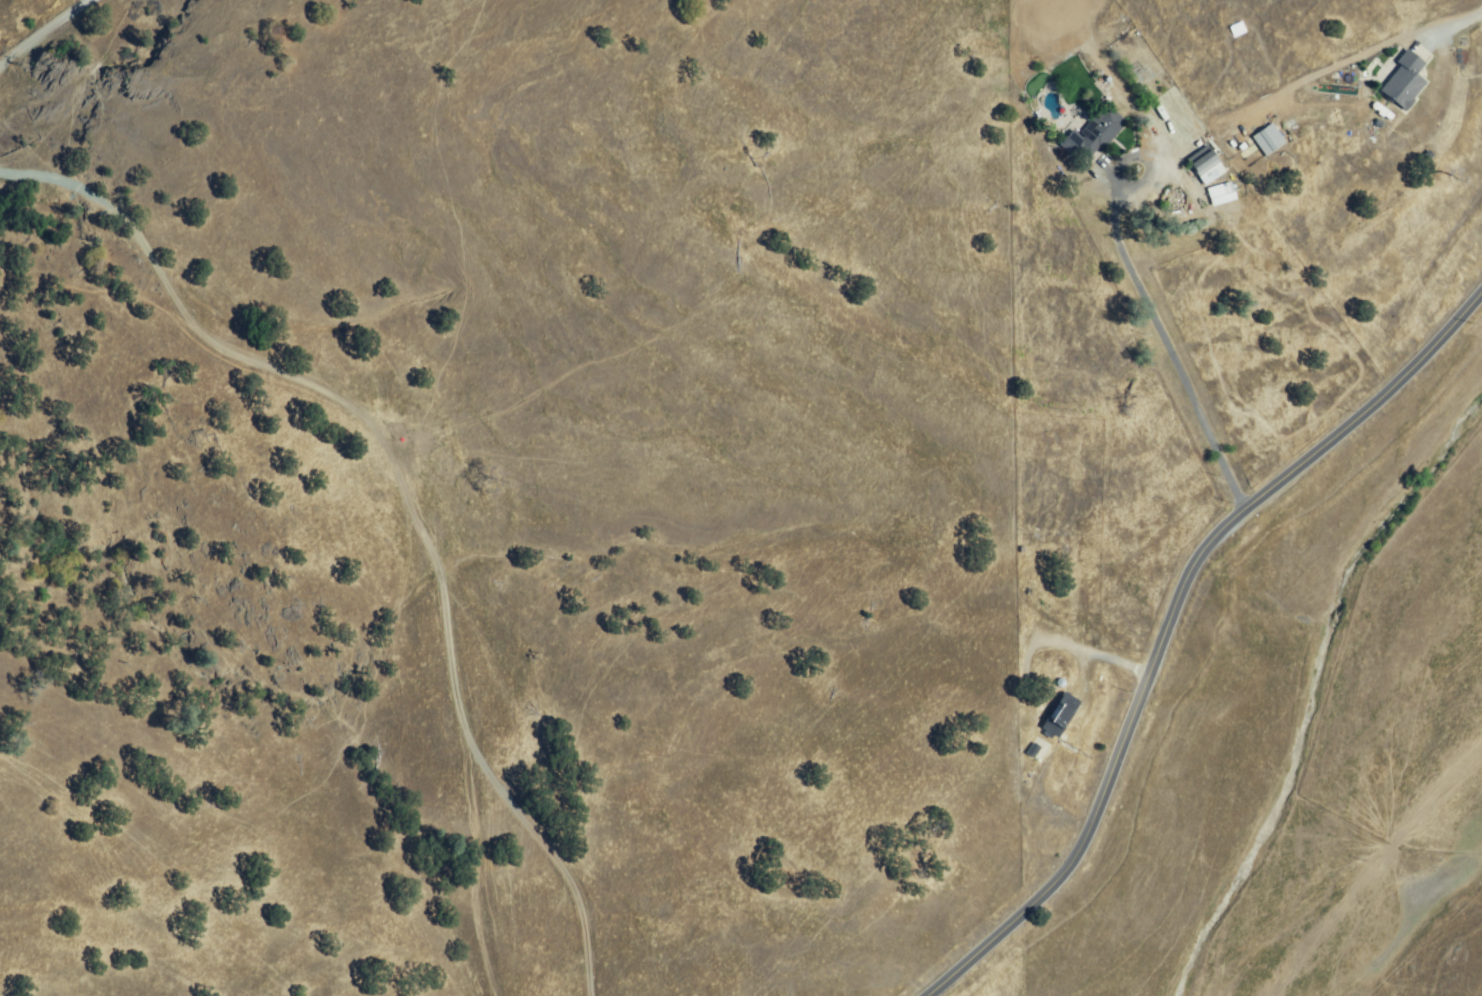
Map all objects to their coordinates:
road: (1460, 22)
road: (45, 33)
building: (1404, 82)
building: (1093, 135)
building: (1263, 140)
building: (1207, 165)
building: (1222, 195)
road: (1168, 341)
road: (399, 495)
road: (1170, 620)
building: (1058, 715)

